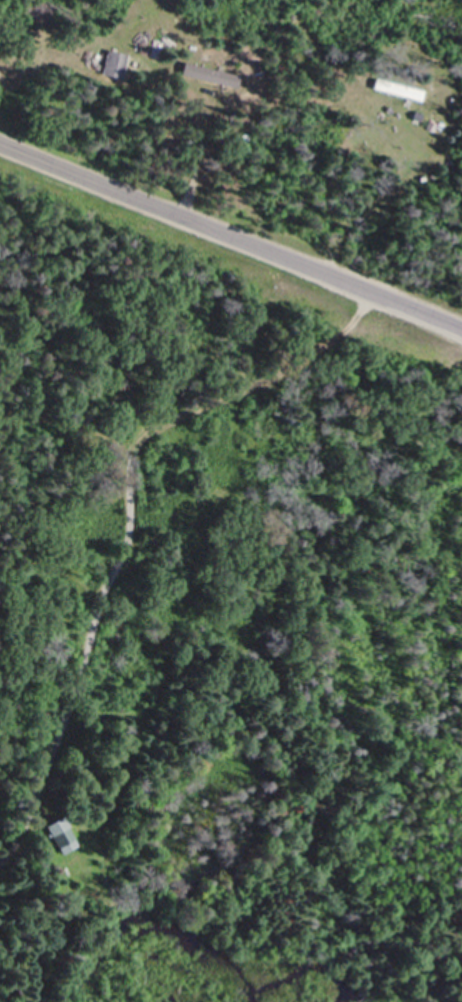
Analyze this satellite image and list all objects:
building: (211, 75)
road: (231, 236)
road: (127, 476)
building: (60, 836)

